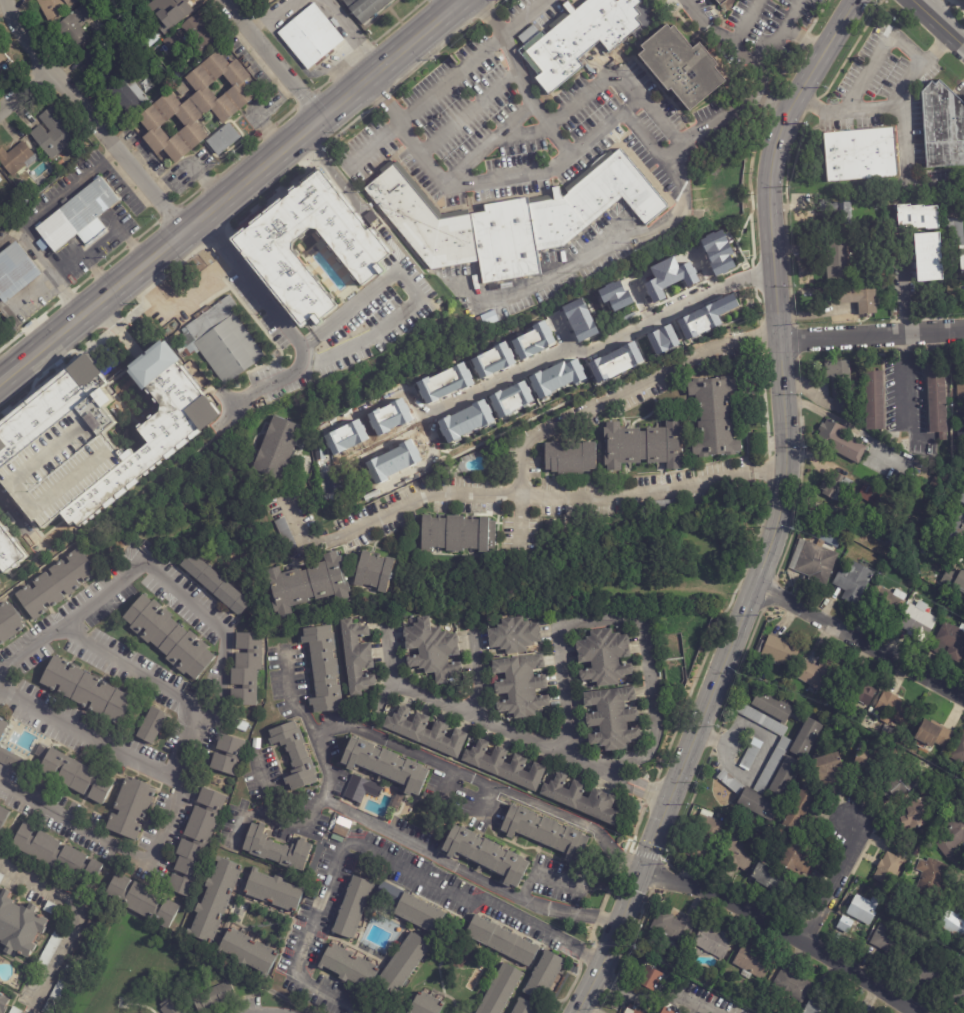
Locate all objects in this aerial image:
building: (264, 1)
building: (722, 2)
road: (451, 3)
building: (54, 7)
building: (167, 9)
building: (367, 9)
road: (275, 16)
road: (748, 21)
road: (940, 24)
building: (75, 26)
road: (349, 34)
building: (198, 35)
building: (311, 37)
building: (582, 37)
building: (173, 42)
road: (753, 48)
road: (878, 54)
road: (273, 58)
building: (1, 60)
building: (99, 60)
road: (472, 60)
building: (682, 67)
road: (522, 79)
building: (181, 90)
road: (25, 91)
building: (130, 93)
road: (904, 95)
road: (574, 105)
building: (195, 107)
road: (470, 110)
road: (848, 112)
road: (89, 116)
road: (517, 118)
building: (943, 127)
building: (53, 134)
building: (223, 140)
road: (373, 146)
road: (574, 153)
building: (861, 155)
building: (14, 159)
building: (0, 179)
building: (0, 180)
building: (23, 187)
road: (229, 190)
building: (872, 203)
building: (838, 211)
building: (916, 216)
building: (19, 220)
building: (78, 220)
building: (509, 220)
road: (117, 230)
road: (774, 238)
building: (713, 241)
building: (272, 248)
building: (962, 249)
building: (719, 252)
building: (922, 253)
road: (599, 254)
road: (84, 258)
building: (837, 261)
building: (721, 264)
road: (44, 266)
building: (672, 270)
building: (15, 273)
building: (688, 274)
building: (661, 275)
road: (412, 290)
building: (654, 290)
road: (31, 292)
building: (615, 295)
building: (859, 299)
road: (179, 301)
building: (903, 303)
building: (724, 304)
building: (709, 316)
building: (580, 320)
building: (698, 322)
road: (283, 324)
building: (688, 327)
road: (871, 335)
building: (668, 337)
building: (220, 340)
building: (657, 342)
road: (754, 344)
building: (630, 354)
building: (620, 359)
road: (539, 360)
building: (609, 365)
building: (598, 370)
building: (960, 381)
building: (840, 383)
road: (906, 386)
building: (875, 398)
building: (938, 398)
road: (601, 403)
building: (714, 416)
building: (960, 428)
building: (95, 437)
building: (842, 440)
building: (644, 445)
building: (277, 447)
building: (570, 456)
road: (424, 465)
road: (769, 470)
building: (936, 480)
building: (835, 487)
road: (500, 493)
building: (870, 494)
building: (963, 499)
building: (667, 505)
road: (781, 510)
road: (13, 518)
building: (458, 532)
building: (945, 536)
building: (287, 538)
building: (9, 550)
building: (817, 555)
building: (375, 571)
building: (954, 578)
building: (854, 582)
building: (55, 583)
building: (215, 583)
building: (307, 584)
building: (955, 601)
building: (888, 602)
road: (626, 619)
building: (9, 621)
building: (918, 622)
building: (514, 634)
building: (168, 638)
building: (950, 641)
road: (860, 642)
building: (433, 649)
building: (781, 651)
building: (356, 656)
building: (604, 657)
building: (246, 668)
building: (324, 668)
road: (132, 672)
building: (819, 674)
road: (475, 675)
building: (521, 685)
building: (85, 690)
road: (210, 691)
building: (858, 692)
building: (775, 708)
building: (894, 709)
building: (871, 710)
building: (826, 715)
building: (612, 717)
building: (152, 725)
building: (241, 725)
road: (508, 728)
building: (426, 732)
building: (935, 734)
road: (88, 736)
building: (256, 743)
road: (767, 746)
building: (959, 748)
building: (10, 751)
building: (227, 754)
road: (416, 754)
building: (751, 754)
building: (295, 755)
building: (867, 762)
building: (386, 764)
building: (505, 765)
building: (772, 765)
building: (927, 765)
building: (829, 768)
road: (679, 772)
building: (784, 773)
building: (76, 777)
building: (730, 782)
building: (899, 782)
building: (361, 789)
building: (582, 799)
building: (129, 808)
building: (799, 808)
building: (917, 813)
road: (240, 816)
building: (3, 817)
road: (571, 819)
road: (271, 822)
building: (340, 830)
building: (545, 832)
road: (395, 836)
building: (705, 837)
building: (951, 837)
building: (195, 842)
building: (276, 849)
building: (738, 851)
road: (374, 853)
building: (486, 855)
building: (57, 856)
building: (798, 858)
building: (888, 868)
road: (543, 875)
building: (1, 877)
building: (768, 879)
building: (932, 879)
road: (832, 884)
building: (273, 891)
building: (214, 900)
building: (142, 902)
building: (892, 906)
building: (353, 908)
building: (410, 908)
building: (53, 909)
building: (863, 910)
road: (78, 922)
building: (846, 923)
building: (954, 924)
building: (90, 925)
building: (19, 927)
building: (673, 928)
road: (782, 930)
building: (501, 941)
building: (714, 941)
building: (889, 942)
building: (51, 947)
building: (248, 951)
building: (753, 962)
building: (403, 964)
building: (349, 967)
building: (928, 968)
building: (544, 976)
building: (651, 979)
building: (792, 985)
building: (59, 990)
building: (500, 990)
building: (957, 992)
building: (213, 997)
road: (653, 1000)
building: (3, 1003)
building: (426, 1004)
building: (171, 1006)
building: (823, 1006)
building: (525, 1007)
building: (15, 1010)
building: (631, 1010)
building: (642, 1011)
building: (666, 1011)
building: (858, 1011)
building: (854, 1012)

